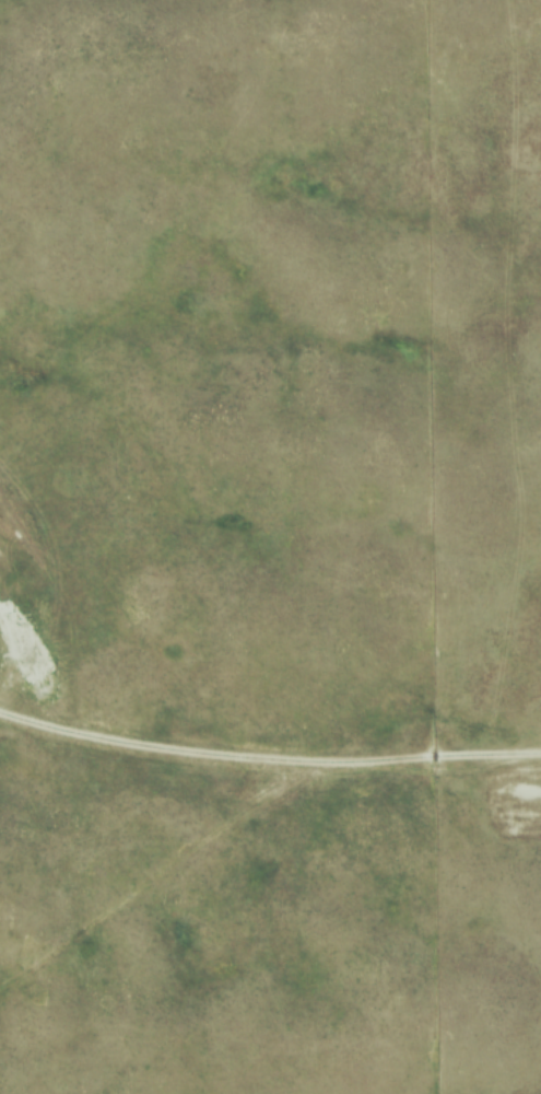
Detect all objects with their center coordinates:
road: (207, 759)
road: (480, 761)
road: (209, 878)

